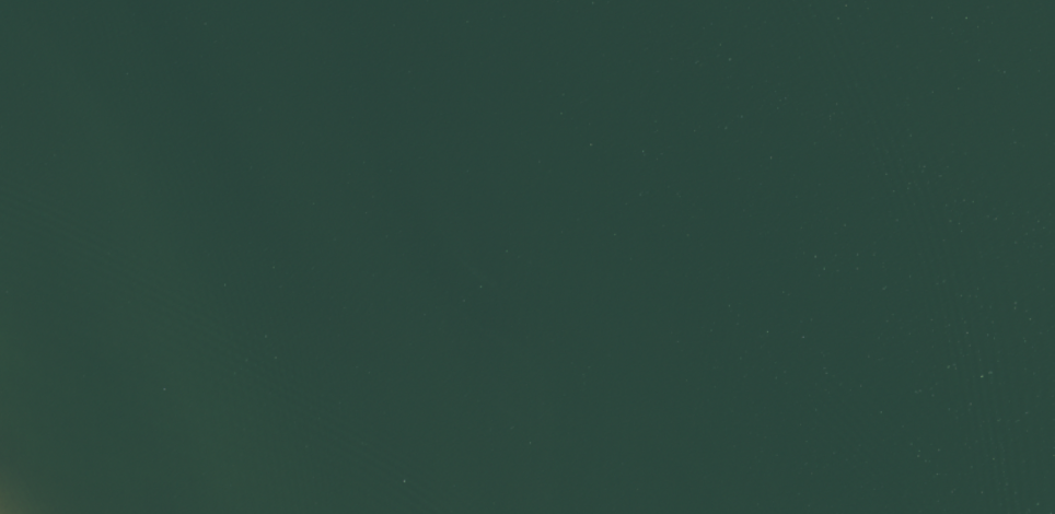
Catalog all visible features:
river: (754, 210)

